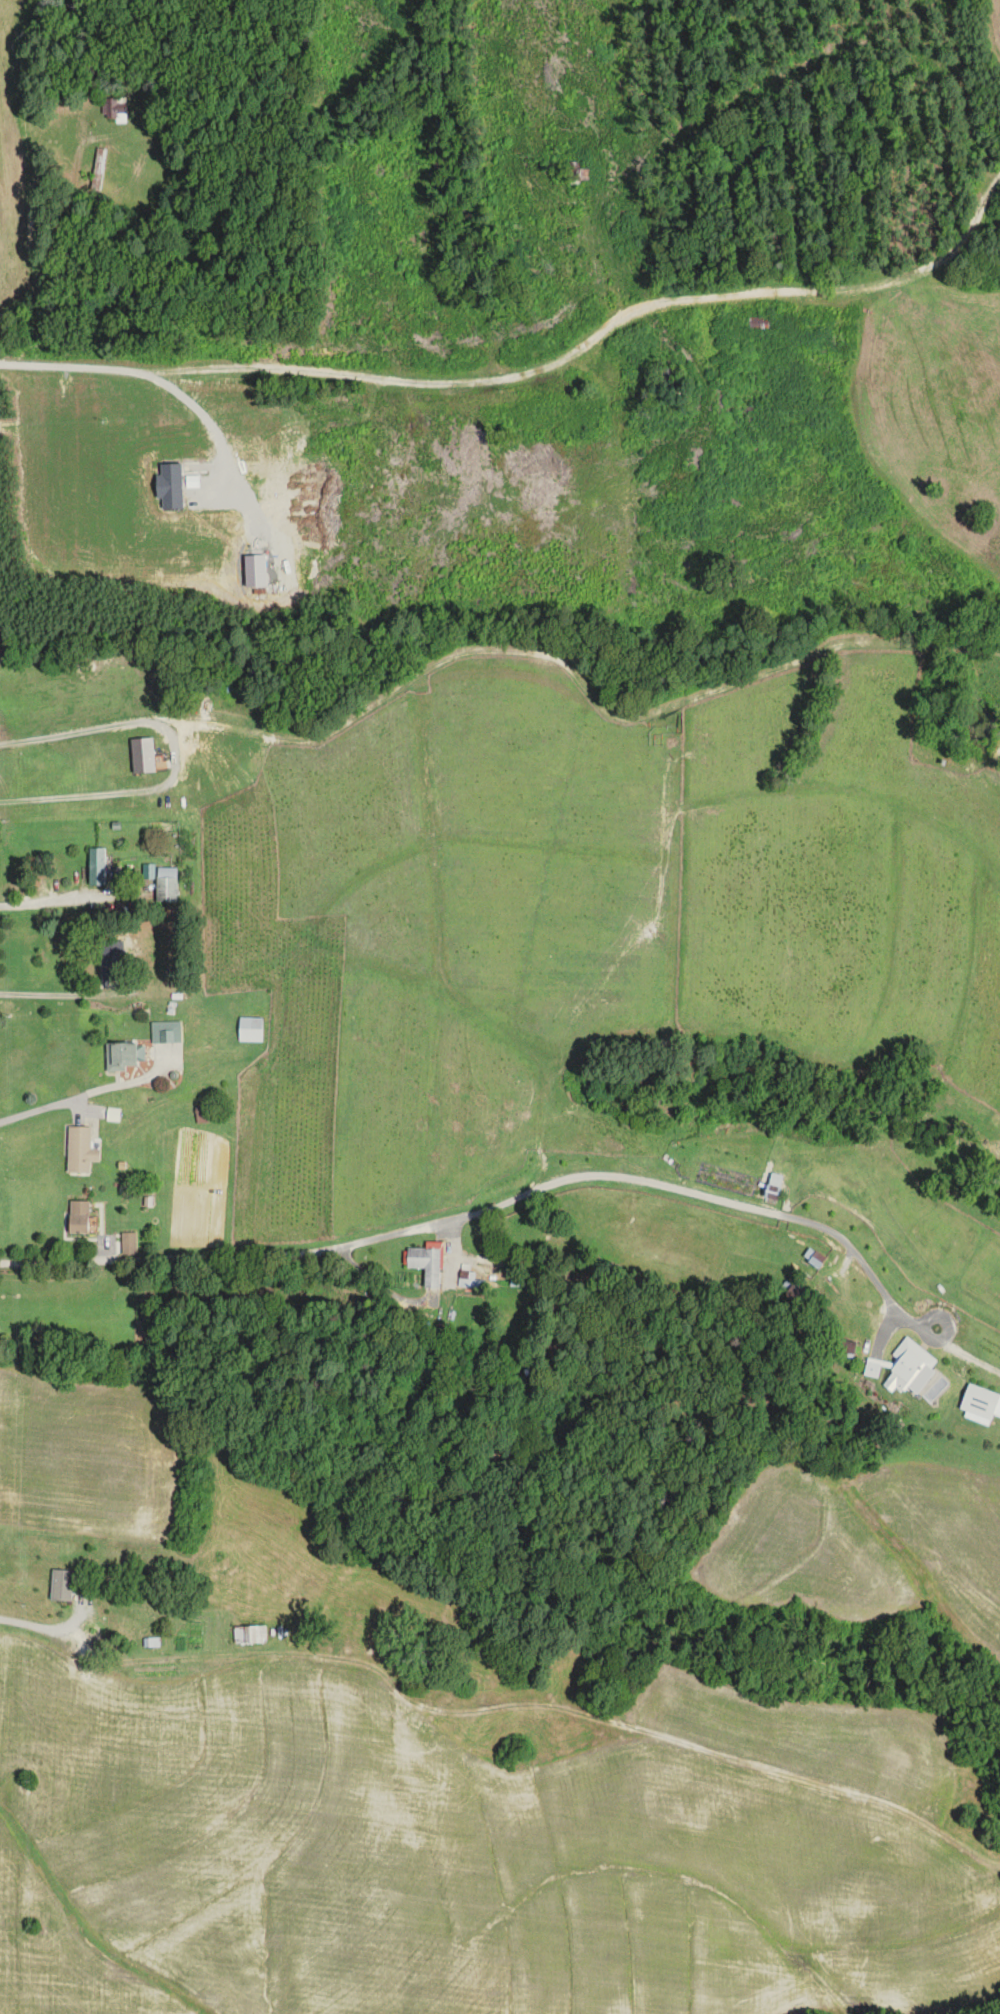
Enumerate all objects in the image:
building: (115, 109)
building: (99, 168)
road: (534, 368)
building: (666, 381)
road: (210, 420)
road: (77, 728)
road: (117, 788)
building: (97, 866)
building: (166, 884)
road: (45, 901)
building: (112, 960)
road: (64, 993)
building: (250, 1029)
building: (166, 1032)
building: (120, 1057)
road: (89, 1091)
building: (80, 1150)
building: (772, 1192)
road: (500, 1202)
building: (78, 1217)
building: (128, 1243)
building: (817, 1259)
building: (427, 1262)
road: (974, 1356)
building: (909, 1360)
building: (979, 1402)
building: (61, 1585)
road: (50, 1631)
building: (249, 1635)
building: (151, 1643)
road: (558, 1707)

